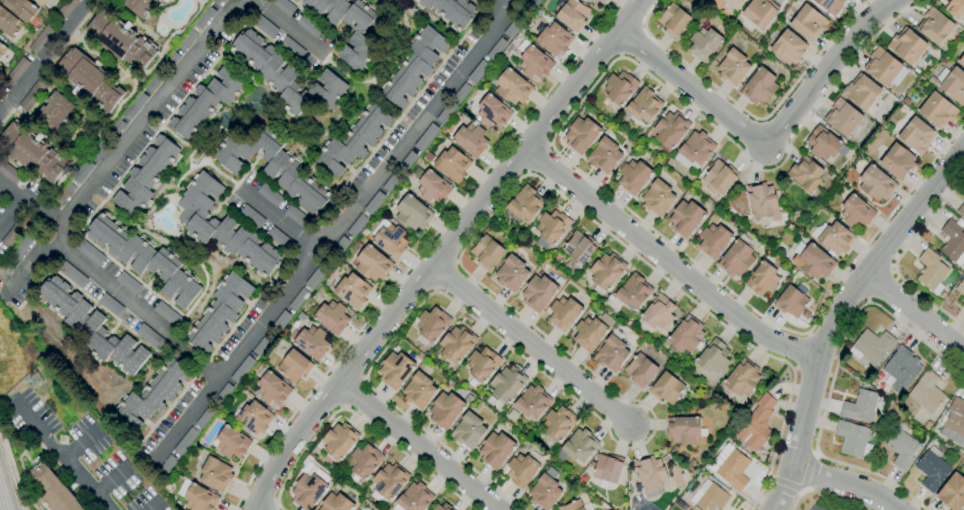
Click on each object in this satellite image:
building: (295, 0)
building: (587, 0)
building: (166, 1)
building: (478, 1)
building: (597, 1)
building: (40, 2)
building: (217, 2)
building: (532, 4)
building: (734, 4)
building: (283, 6)
road: (504, 6)
building: (830, 6)
building: (141, 7)
building: (21, 8)
building: (954, 8)
building: (66, 9)
building: (450, 11)
building: (760, 12)
building: (572, 14)
road: (630, 15)
building: (204, 17)
building: (673, 20)
road: (291, 22)
building: (808, 22)
building: (9, 23)
building: (264, 26)
building: (309, 26)
road: (642, 26)
building: (935, 26)
building: (513, 27)
building: (41, 38)
building: (357, 38)
building: (554, 39)
road: (630, 39)
building: (120, 40)
building: (186, 40)
building: (704, 44)
building: (907, 46)
building: (291, 48)
building: (788, 48)
building: (2, 49)
building: (496, 50)
road: (44, 55)
road: (620, 55)
building: (170, 59)
building: (533, 61)
building: (961, 61)
building: (414, 65)
building: (733, 67)
building: (882, 67)
building: (478, 72)
building: (15, 73)
building: (286, 76)
road: (838, 79)
building: (89, 80)
building: (154, 80)
building: (759, 86)
building: (954, 86)
building: (513, 87)
building: (619, 88)
building: (462, 92)
building: (861, 92)
building: (33, 94)
road: (582, 98)
building: (914, 98)
building: (207, 101)
building: (643, 105)
building: (134, 106)
building: (937, 111)
building: (56, 112)
building: (446, 112)
building: (492, 112)
road: (695, 112)
road: (751, 116)
building: (843, 117)
building: (115, 129)
building: (670, 129)
building: (581, 135)
building: (916, 136)
building: (426, 137)
road: (133, 138)
building: (353, 140)
building: (471, 140)
building: (822, 143)
road: (549, 144)
road: (768, 144)
building: (696, 148)
road: (963, 148)
building: (99, 149)
building: (32, 152)
building: (604, 156)
road: (536, 157)
building: (897, 161)
building: (407, 162)
building: (452, 165)
building: (273, 167)
building: (82, 171)
building: (9, 172)
road: (527, 172)
building: (805, 174)
building: (147, 176)
building: (633, 176)
building: (719, 178)
building: (391, 182)
building: (875, 183)
building: (431, 185)
road: (906, 193)
building: (64, 194)
building: (269, 195)
building: (657, 198)
building: (763, 201)
building: (374, 203)
road: (31, 205)
building: (524, 205)
building: (961, 210)
building: (856, 212)
building: (413, 213)
building: (296, 216)
building: (251, 217)
building: (686, 218)
road: (278, 225)
building: (356, 225)
building: (222, 226)
building: (551, 228)
road: (339, 230)
building: (15, 231)
building: (278, 238)
building: (389, 238)
building: (836, 239)
building: (713, 240)
building: (952, 240)
road: (674, 247)
building: (579, 248)
building: (337, 250)
road: (421, 250)
building: (89, 252)
building: (487, 252)
building: (145, 259)
road: (665, 259)
building: (736, 259)
road: (897, 259)
building: (814, 262)
road: (455, 263)
building: (373, 264)
road: (429, 265)
road: (891, 269)
building: (931, 270)
building: (606, 272)
building: (511, 273)
building: (71, 274)
road: (444, 276)
building: (316, 277)
building: (762, 279)
building: (128, 283)
road: (878, 284)
building: (960, 288)
road: (434, 290)
building: (352, 291)
building: (633, 291)
building: (538, 293)
road: (826, 298)
building: (298, 300)
road: (867, 300)
building: (790, 301)
building: (110, 305)
building: (963, 306)
road: (834, 311)
road: (136, 312)
building: (219, 312)
building: (658, 312)
building: (564, 313)
road: (914, 313)
building: (167, 314)
building: (301, 317)
building: (332, 317)
building: (280, 322)
building: (431, 325)
building: (91, 326)
building: (591, 331)
road: (808, 334)
building: (150, 336)
building: (686, 338)
building: (312, 342)
building: (457, 343)
building: (262, 345)
road: (531, 345)
building: (873, 345)
road: (803, 351)
building: (611, 353)
building: (713, 357)
building: (482, 364)
building: (294, 366)
road: (582, 366)
road: (795, 368)
building: (242, 369)
building: (641, 369)
building: (395, 370)
building: (901, 370)
road: (833, 372)
power tower: (28, 374)
building: (866, 374)
building: (742, 378)
building: (506, 385)
building: (666, 388)
building: (273, 389)
building: (419, 390)
building: (927, 392)
building: (153, 394)
building: (223, 395)
building: (468, 398)
building: (532, 401)
building: (863, 405)
building: (475, 408)
building: (445, 410)
building: (512, 415)
building: (206, 417)
building: (253, 417)
building: (955, 417)
road: (358, 418)
building: (758, 423)
building: (558, 424)
building: (682, 429)
building: (468, 430)
building: (853, 439)
building: (339, 440)
building: (186, 441)
road: (82, 443)
building: (232, 443)
road: (418, 445)
building: (578, 446)
building: (901, 448)
building: (496, 449)
building: (674, 449)
road: (814, 454)
road: (65, 455)
building: (365, 461)
building: (691, 462)
building: (165, 468)
building: (932, 468)
building: (733, 469)
building: (522, 470)
building: (606, 470)
road: (807, 471)
building: (215, 474)
building: (651, 475)
road: (114, 478)
building: (388, 483)
road: (785, 483)
road: (846, 484)
road: (762, 486)
road: (803, 489)
building: (54, 490)
building: (308, 491)
building: (544, 492)
building: (953, 492)
road: (827, 493)
railway: (4, 496)
building: (197, 496)
building: (709, 497)
building: (414, 498)
parking lot: (821, 501)
building: (336, 503)
road: (153, 506)
building: (572, 506)
building: (442, 507)
building: (431, 509)

